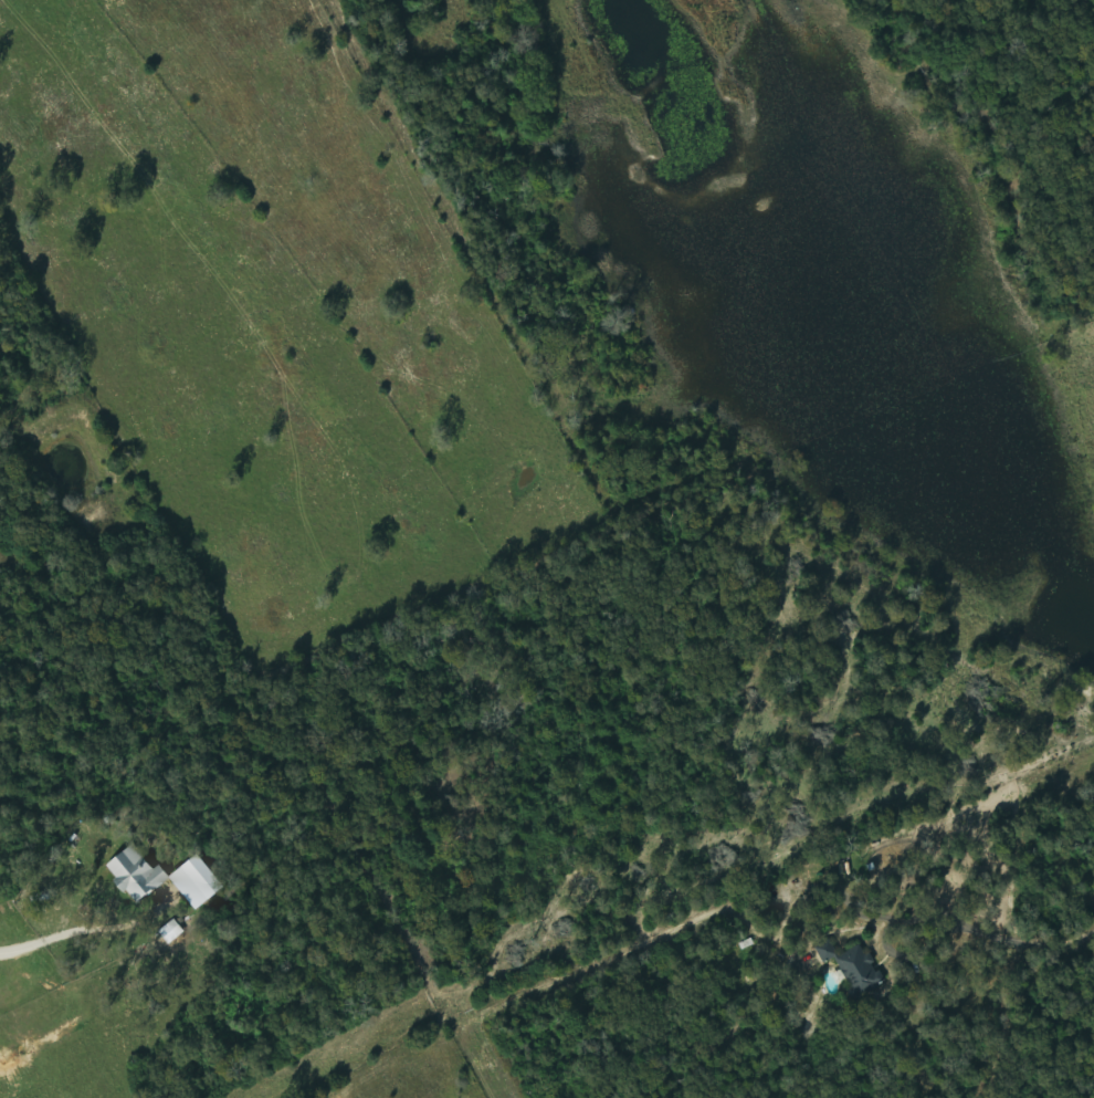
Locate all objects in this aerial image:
building: (139, 875)
road: (93, 931)
building: (173, 932)
building: (856, 968)

